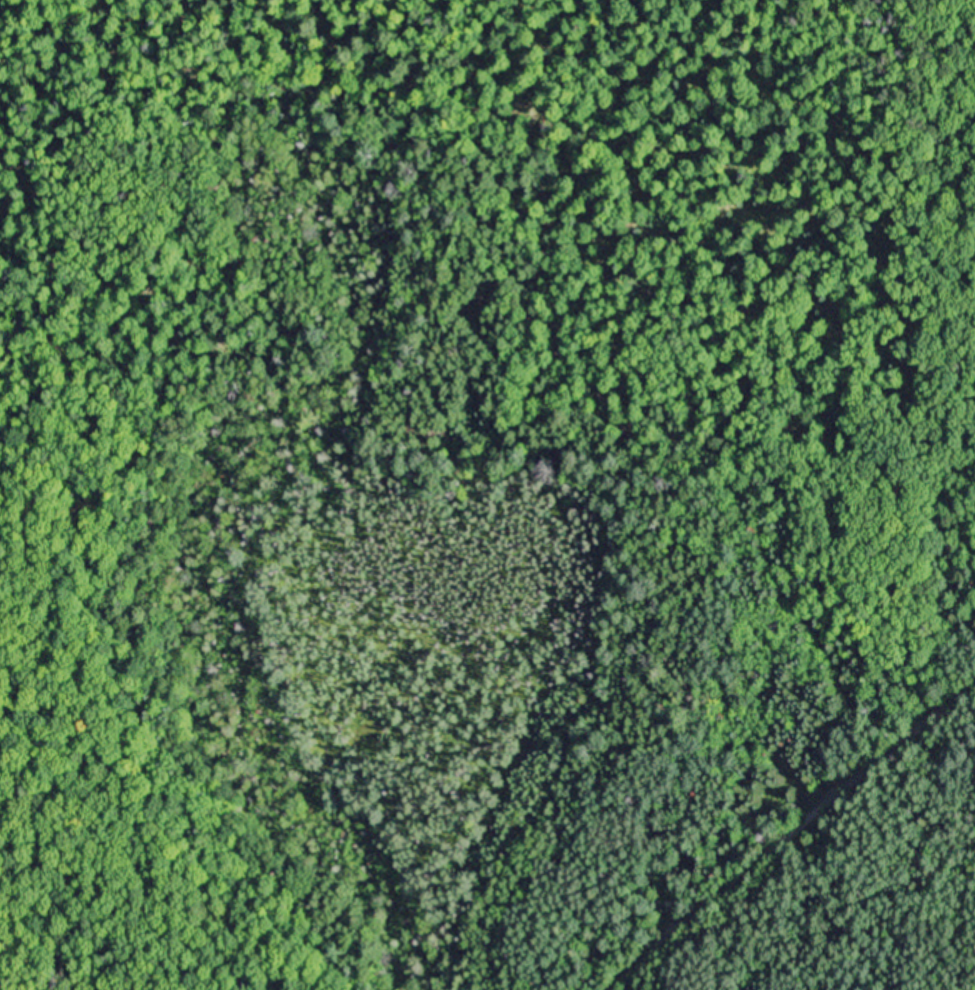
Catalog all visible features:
road: (780, 840)

